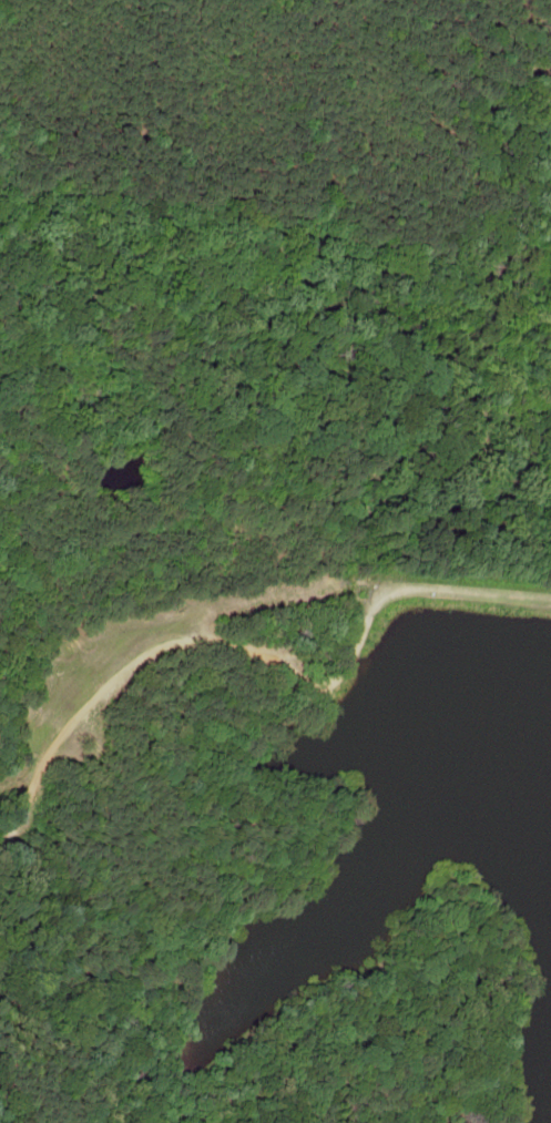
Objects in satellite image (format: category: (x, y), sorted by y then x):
road: (252, 647)

